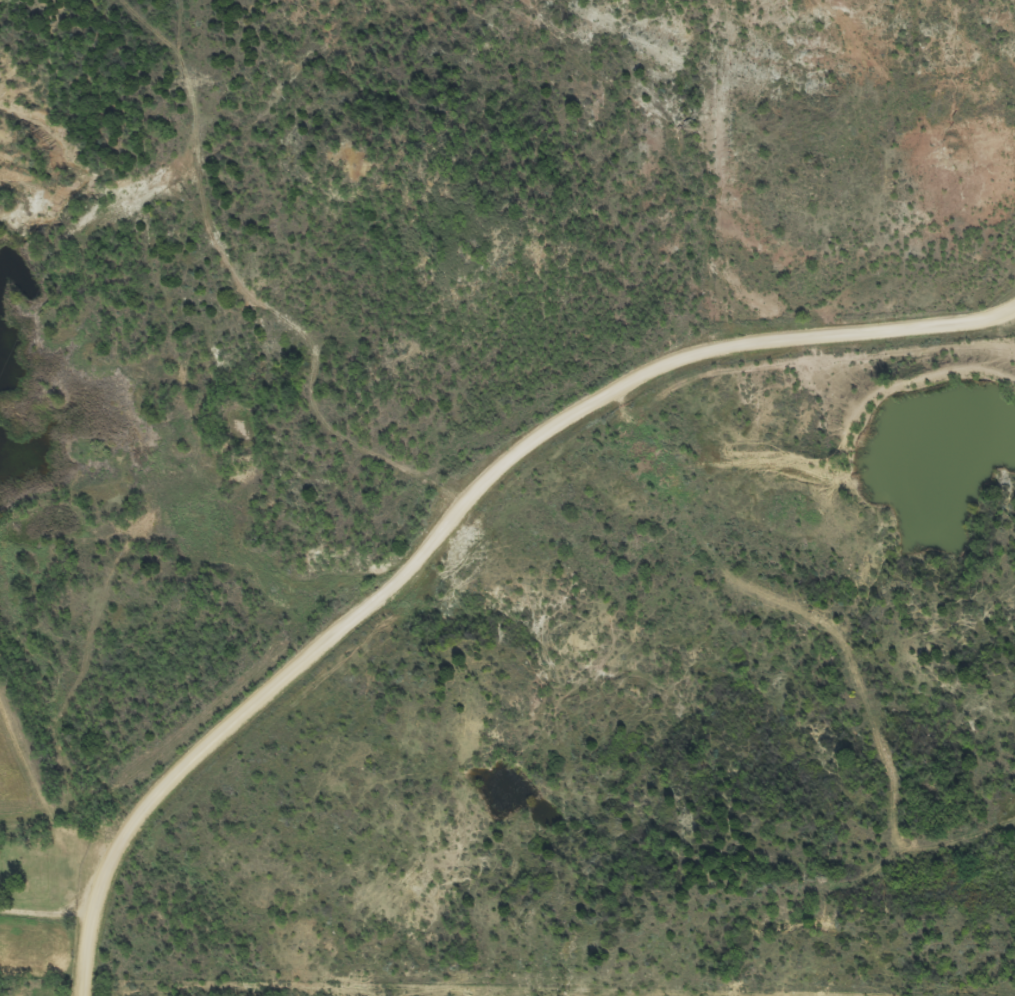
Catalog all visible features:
road: (450, 521)

